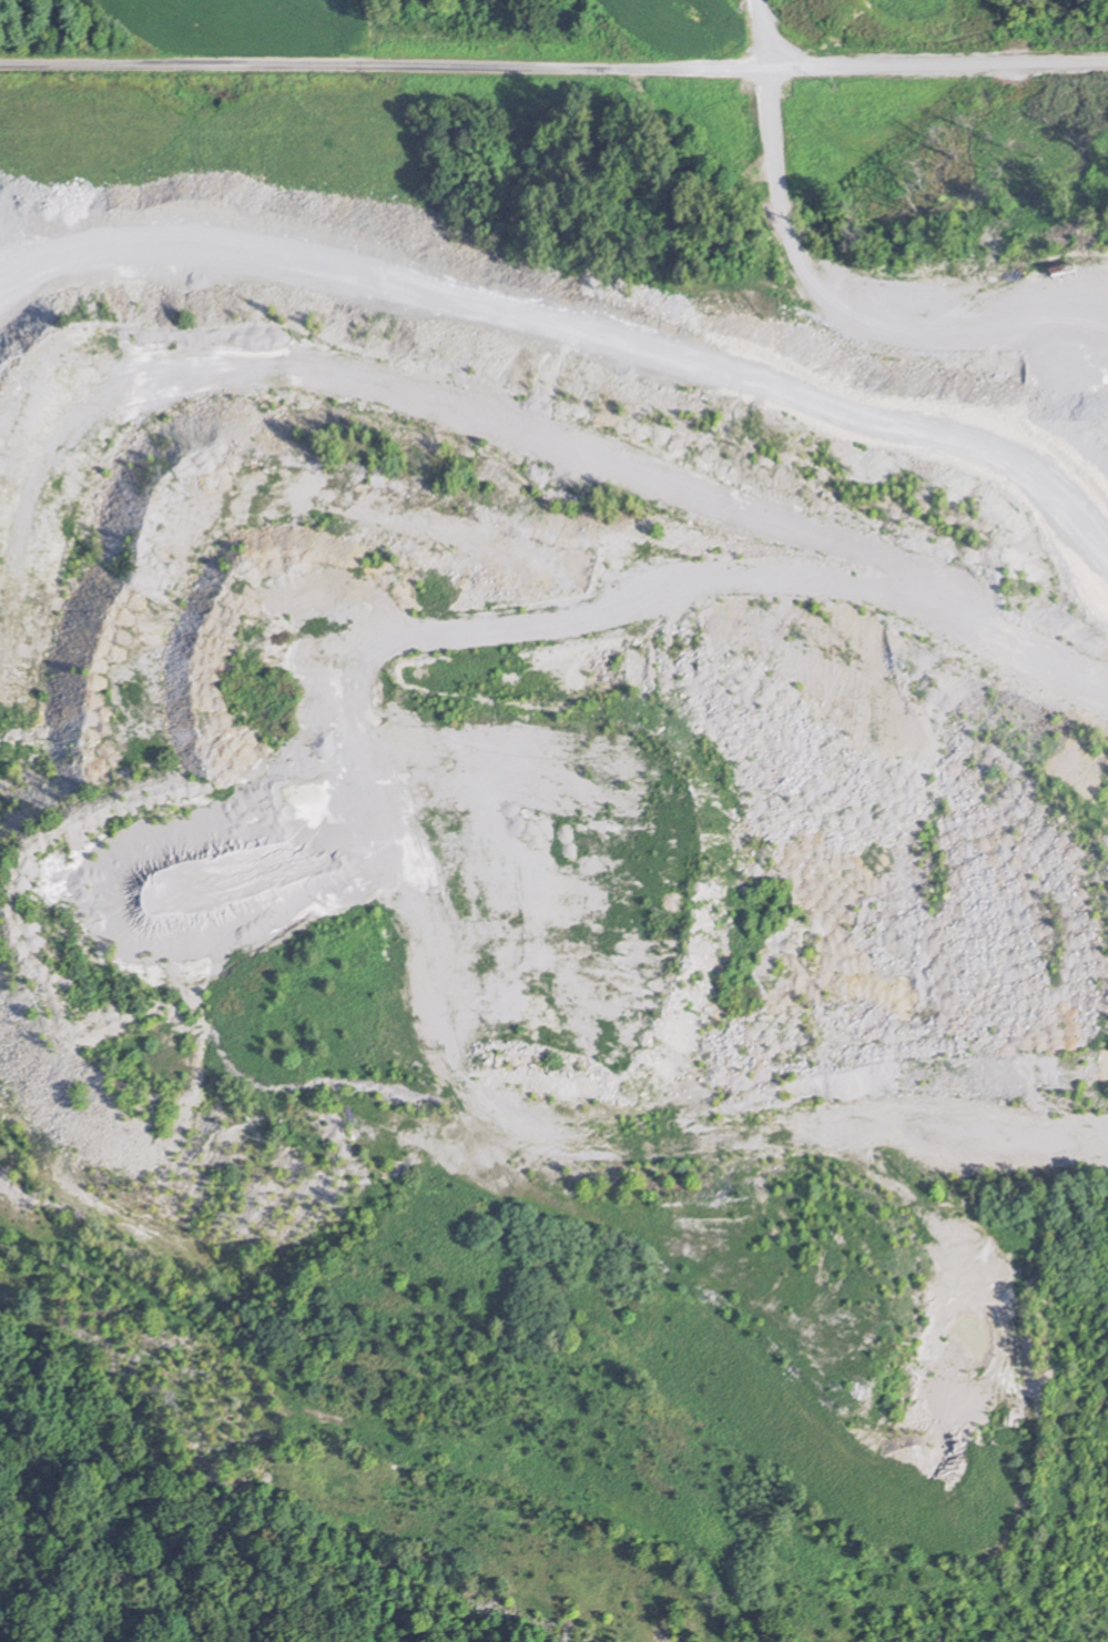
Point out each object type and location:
road: (768, 33)
road: (553, 68)
road: (421, 288)
road: (848, 311)
quarry: (572, 905)
road: (278, 1502)

